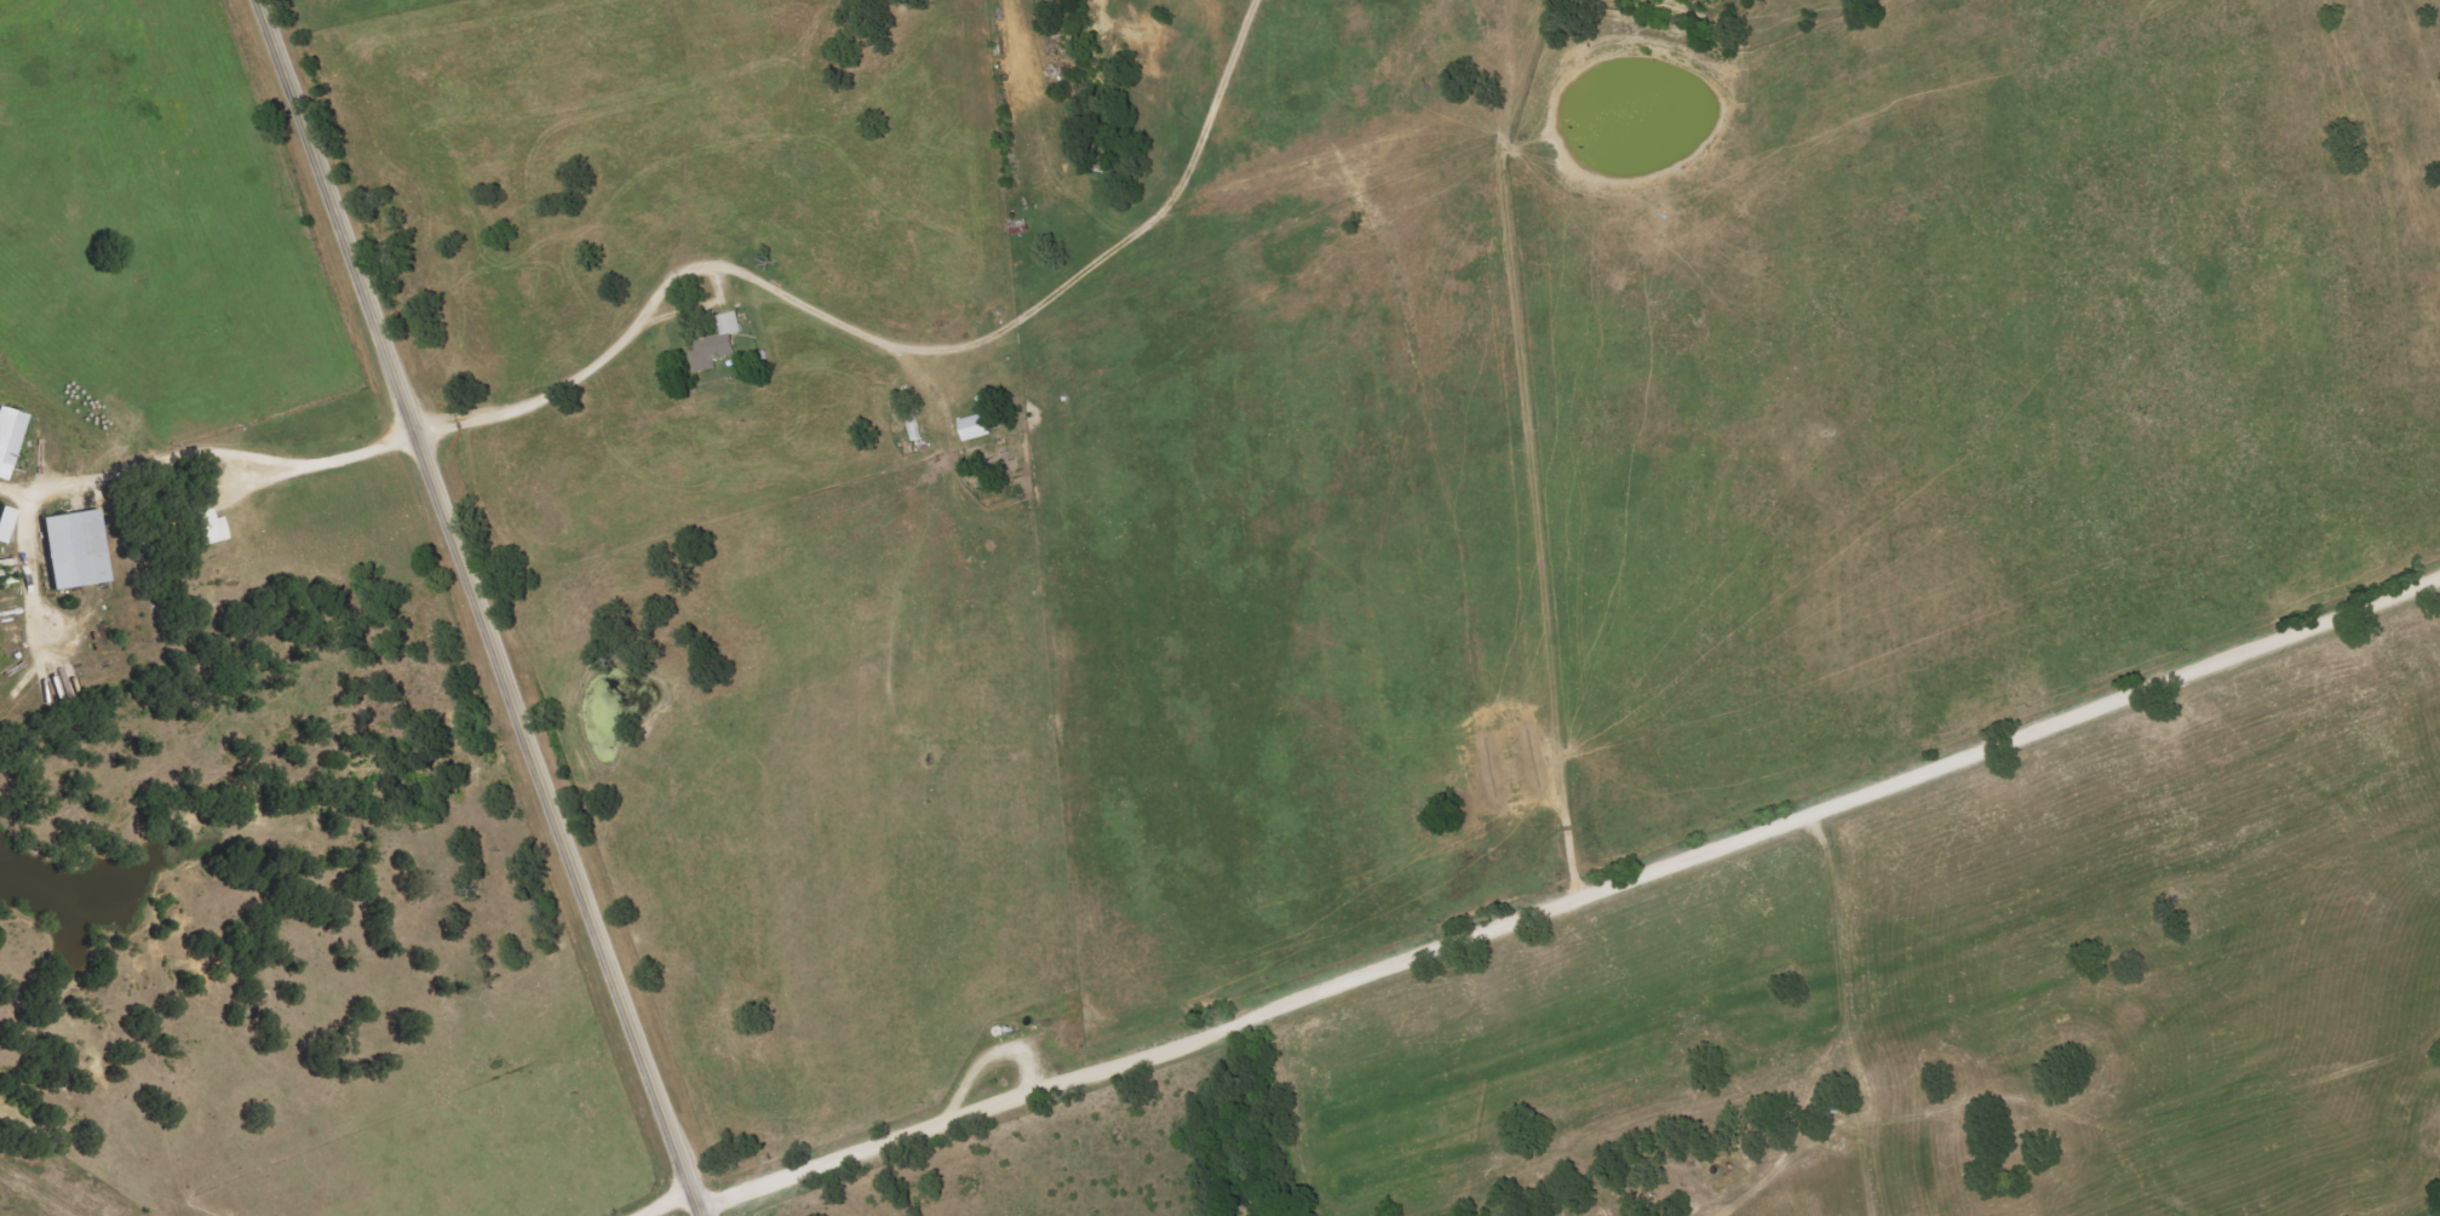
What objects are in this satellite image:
road: (335, 219)
building: (716, 343)
road: (889, 343)
building: (974, 426)
building: (10, 438)
road: (207, 453)
building: (200, 522)
building: (71, 549)
road: (557, 827)
road: (1566, 881)
road: (668, 1206)

